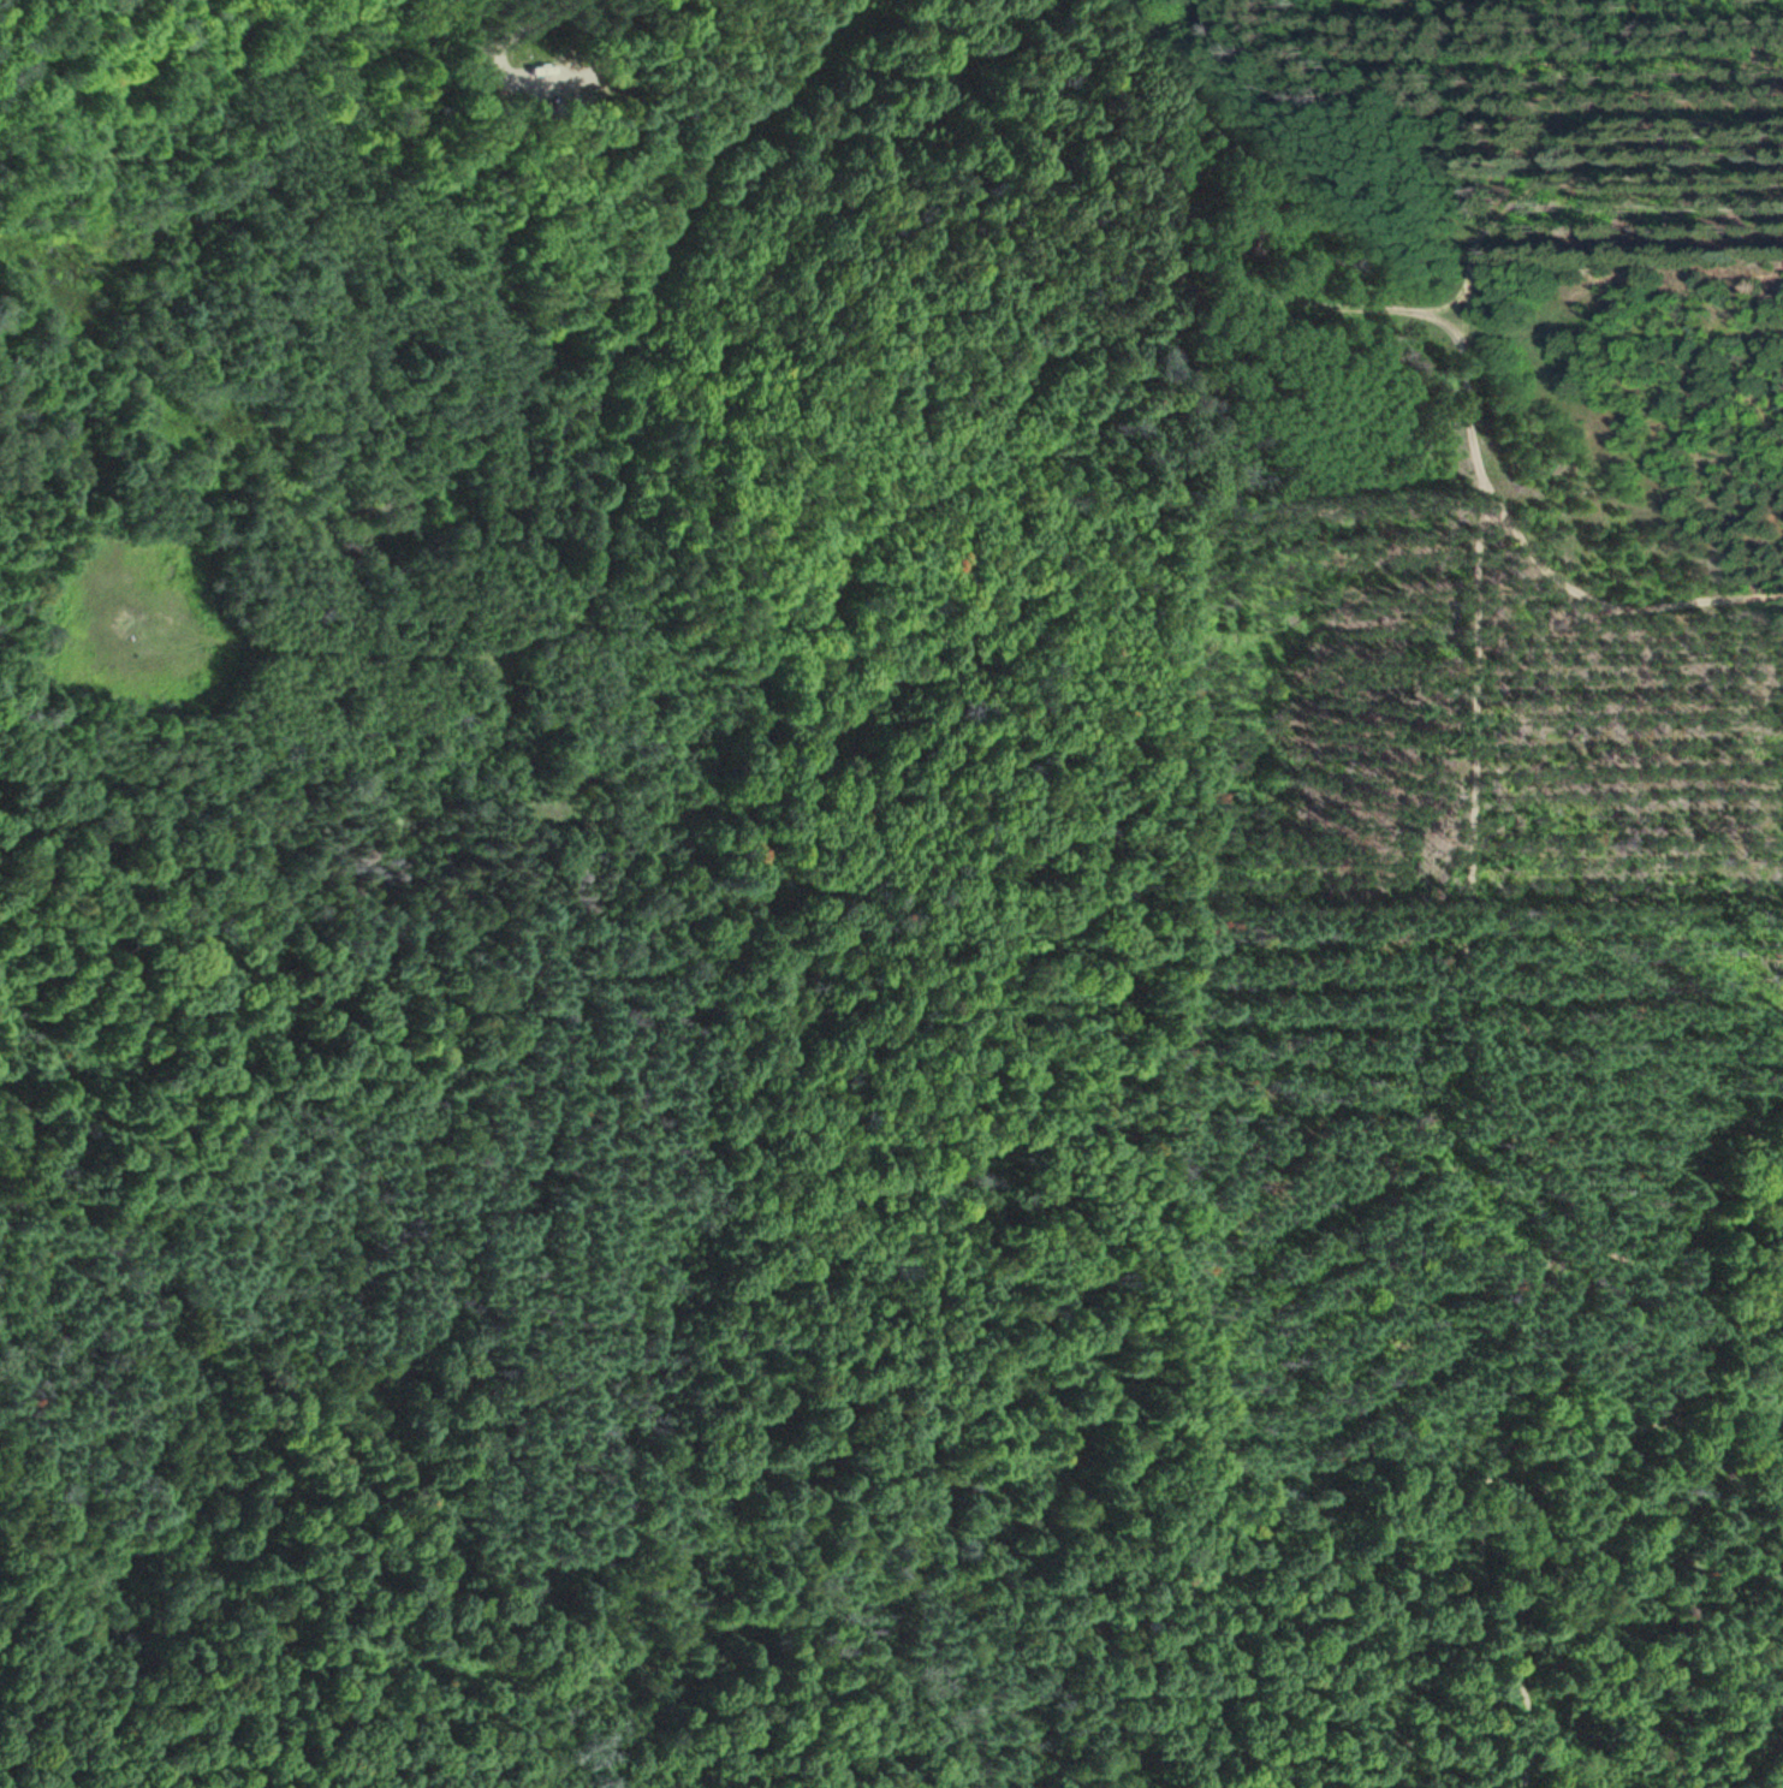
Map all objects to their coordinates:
road: (1178, 136)

